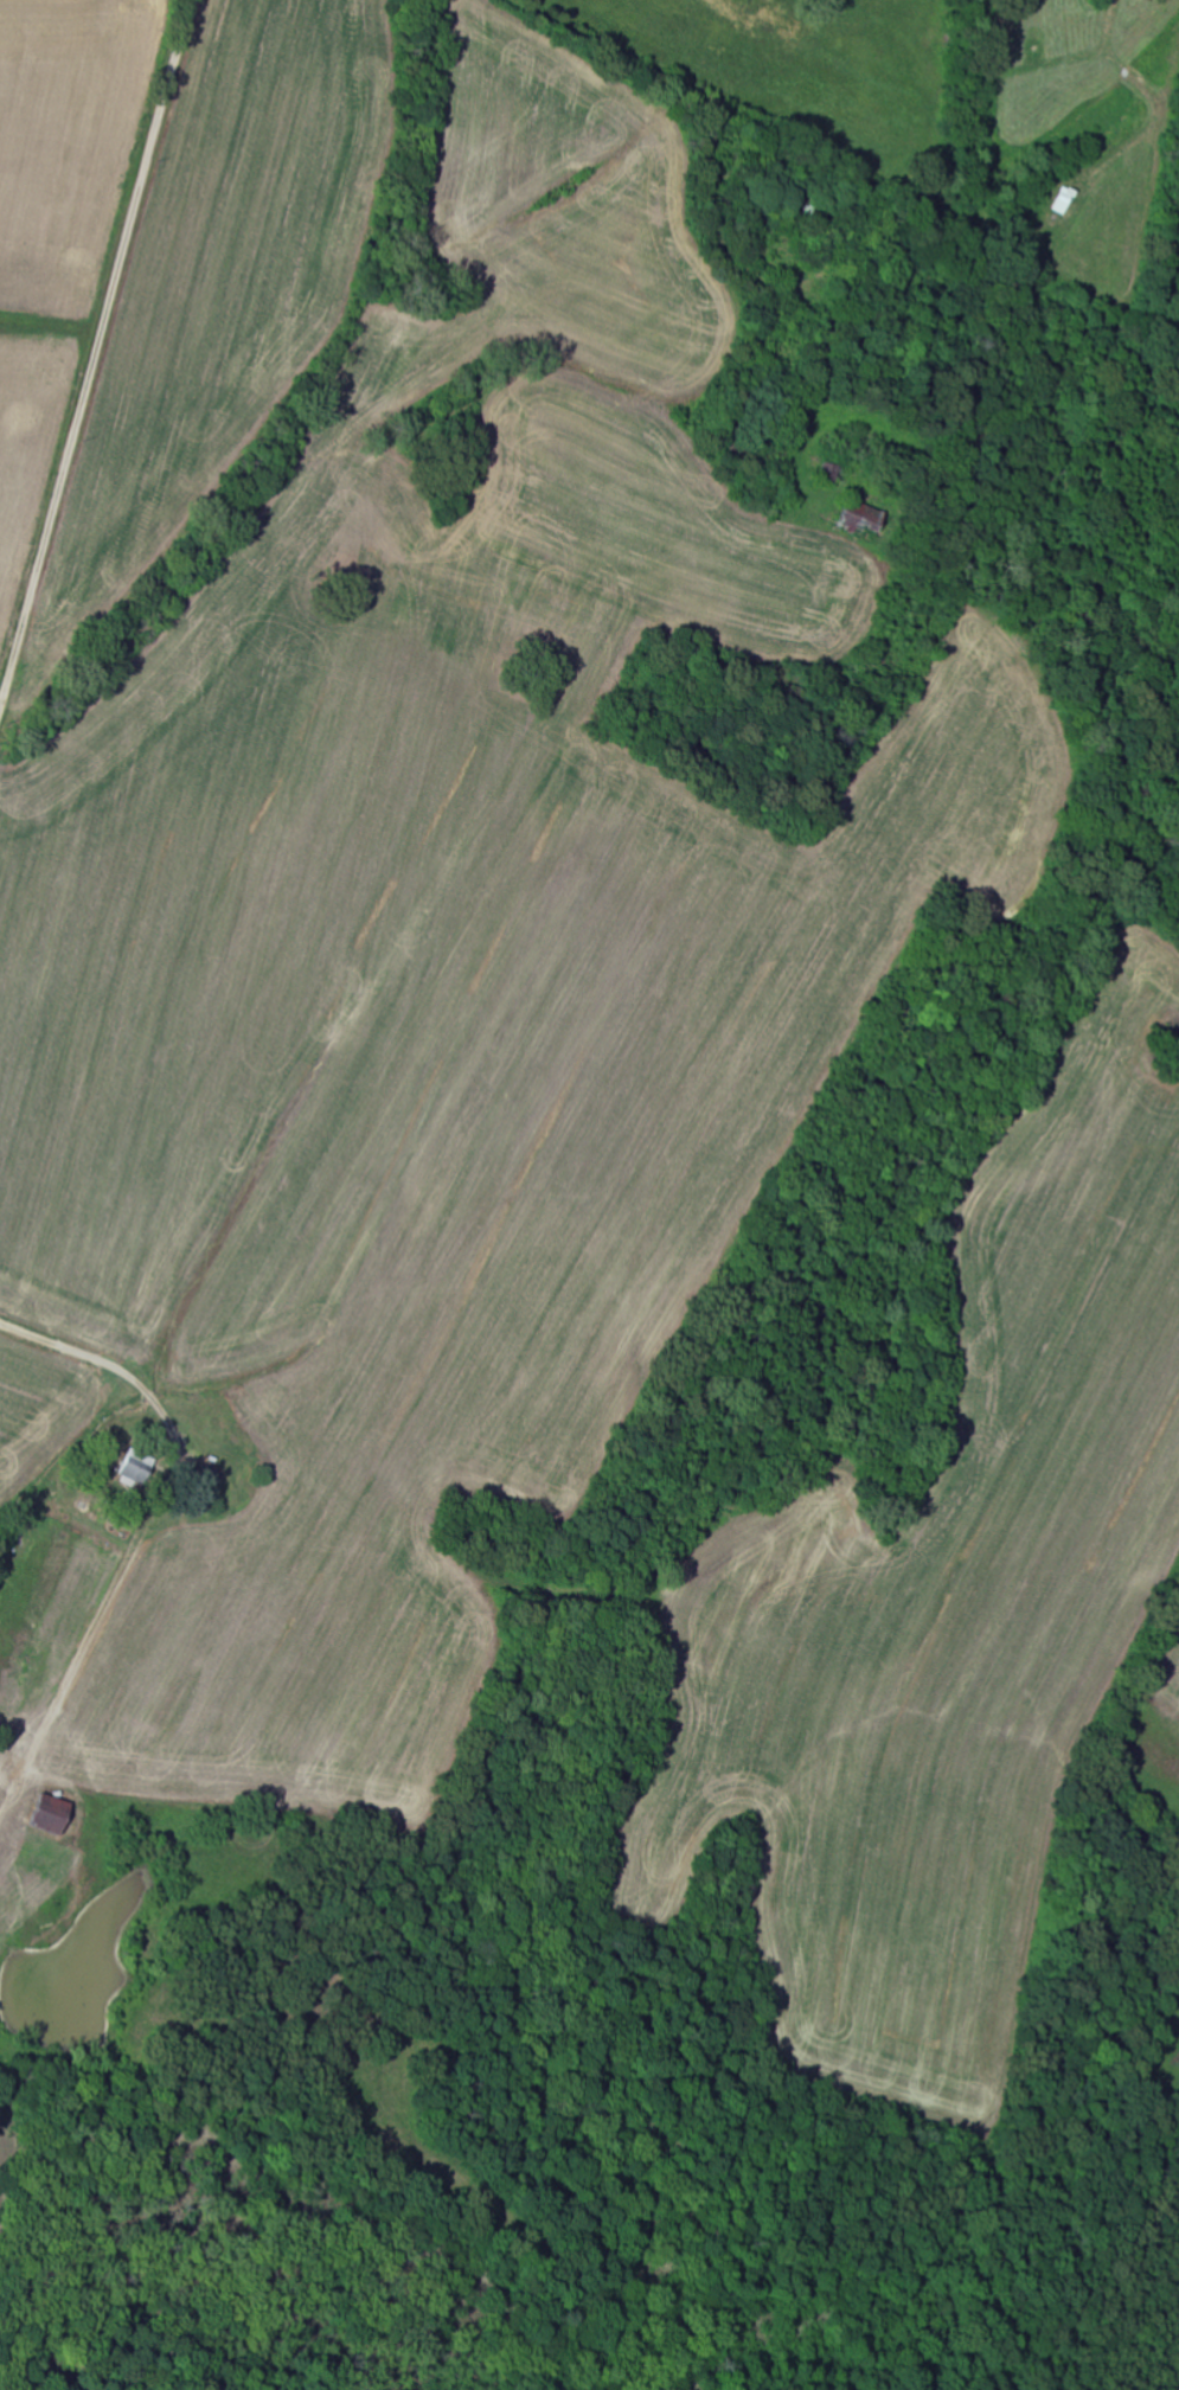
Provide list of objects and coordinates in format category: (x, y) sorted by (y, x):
building: (141, 1467)
building: (58, 1815)

